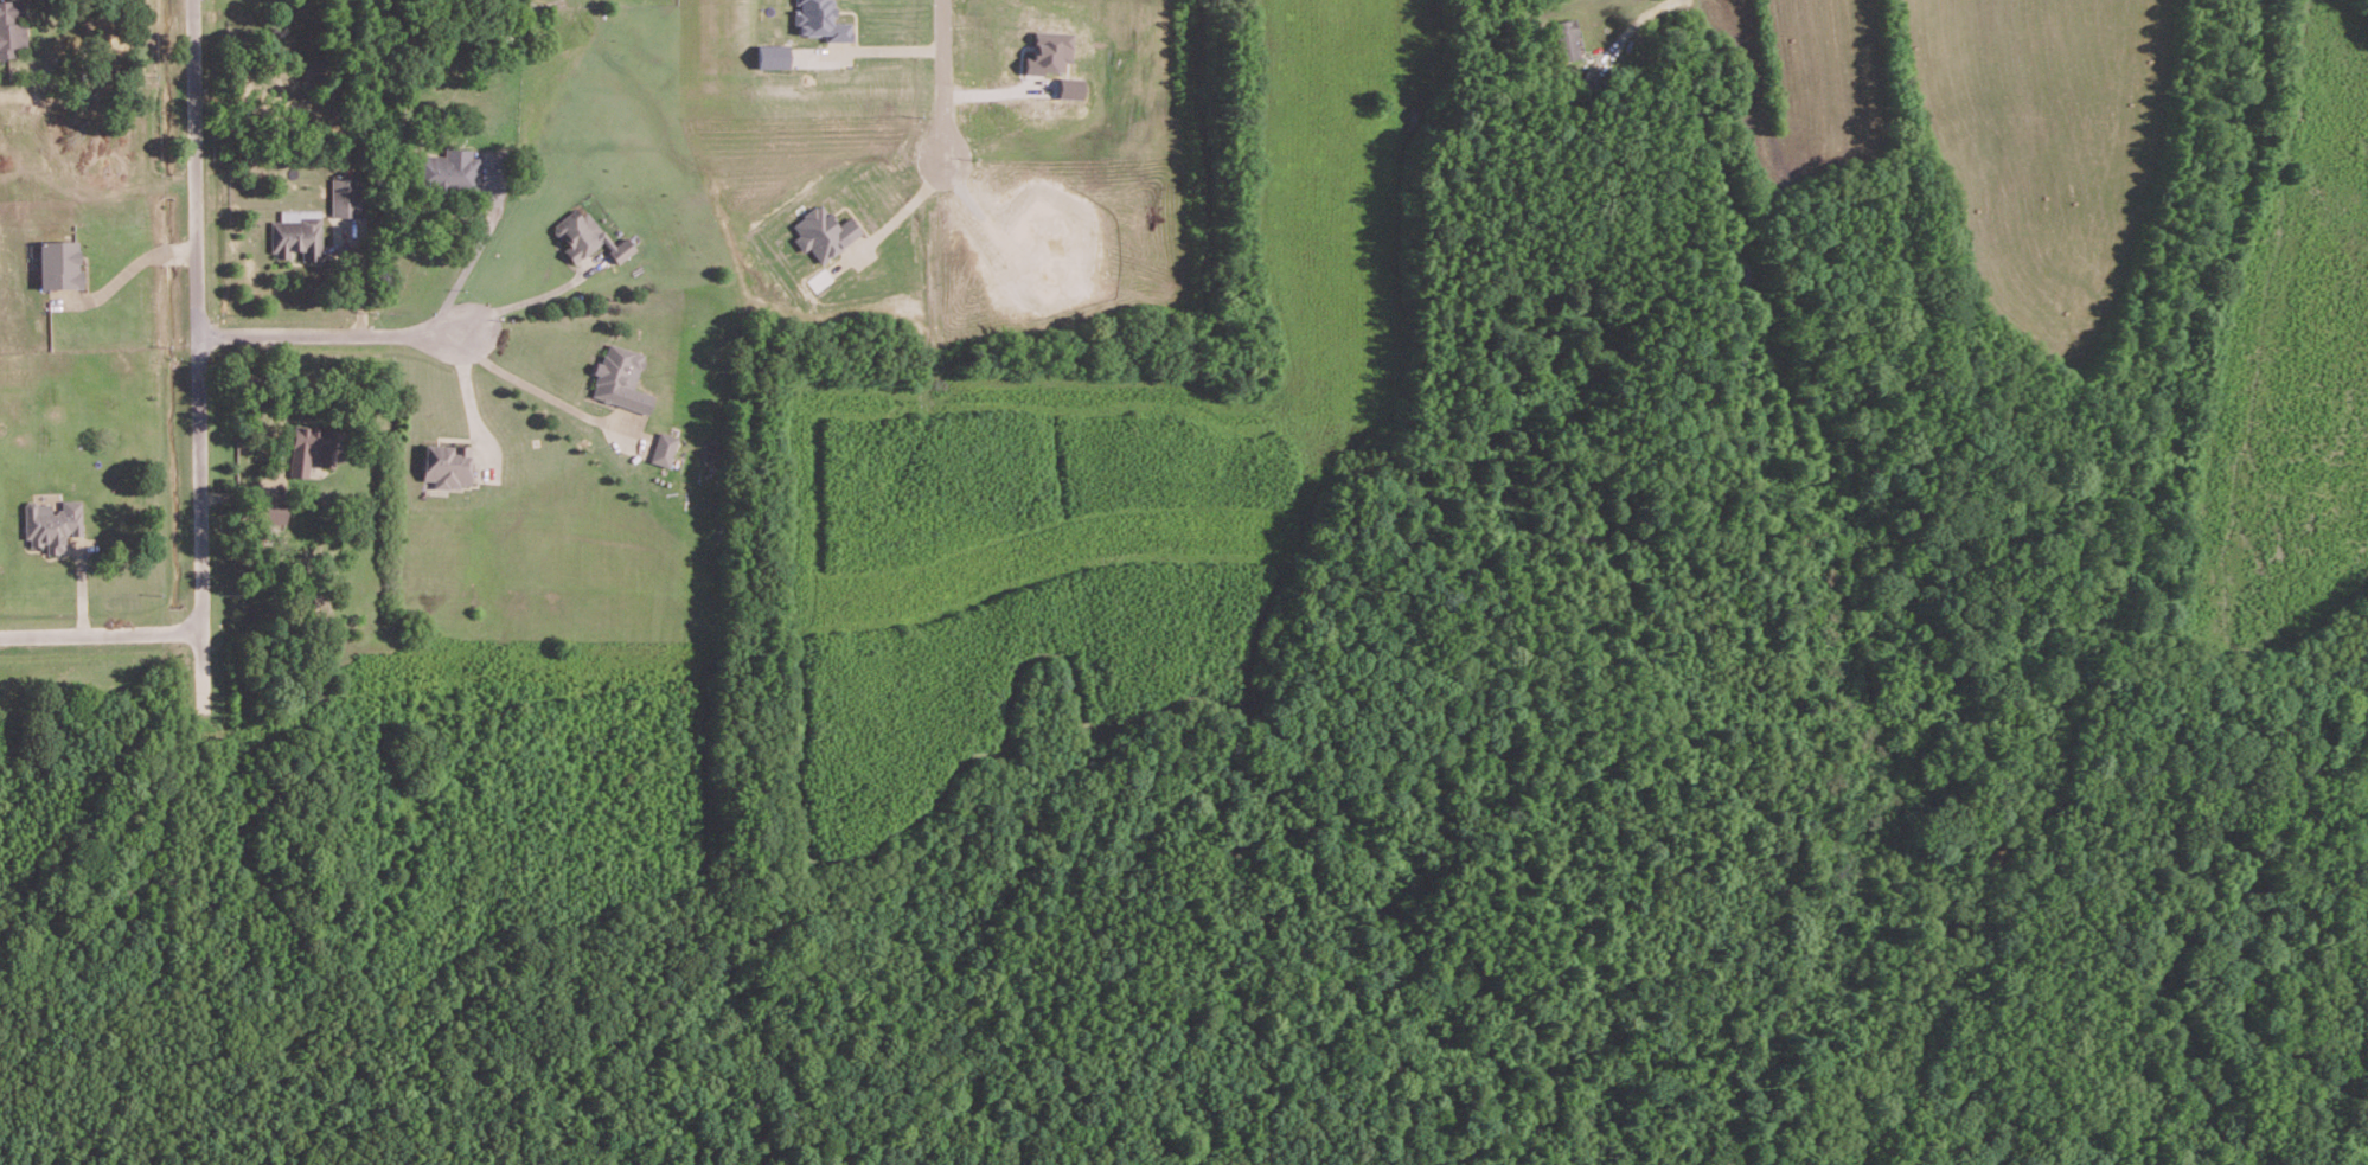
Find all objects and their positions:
building: (820, 20)
building: (12, 30)
building: (1567, 38)
building: (1049, 52)
building: (772, 55)
road: (941, 82)
building: (1069, 87)
building: (448, 169)
building: (344, 196)
road: (903, 209)
building: (824, 232)
building: (296, 233)
building: (588, 236)
road: (469, 255)
building: (60, 263)
road: (128, 269)
road: (524, 299)
road: (197, 331)
road: (329, 334)
building: (620, 378)
road: (538, 389)
road: (466, 396)
building: (312, 448)
building: (664, 448)
building: (447, 463)
building: (273, 512)
building: (51, 523)
road: (103, 633)

